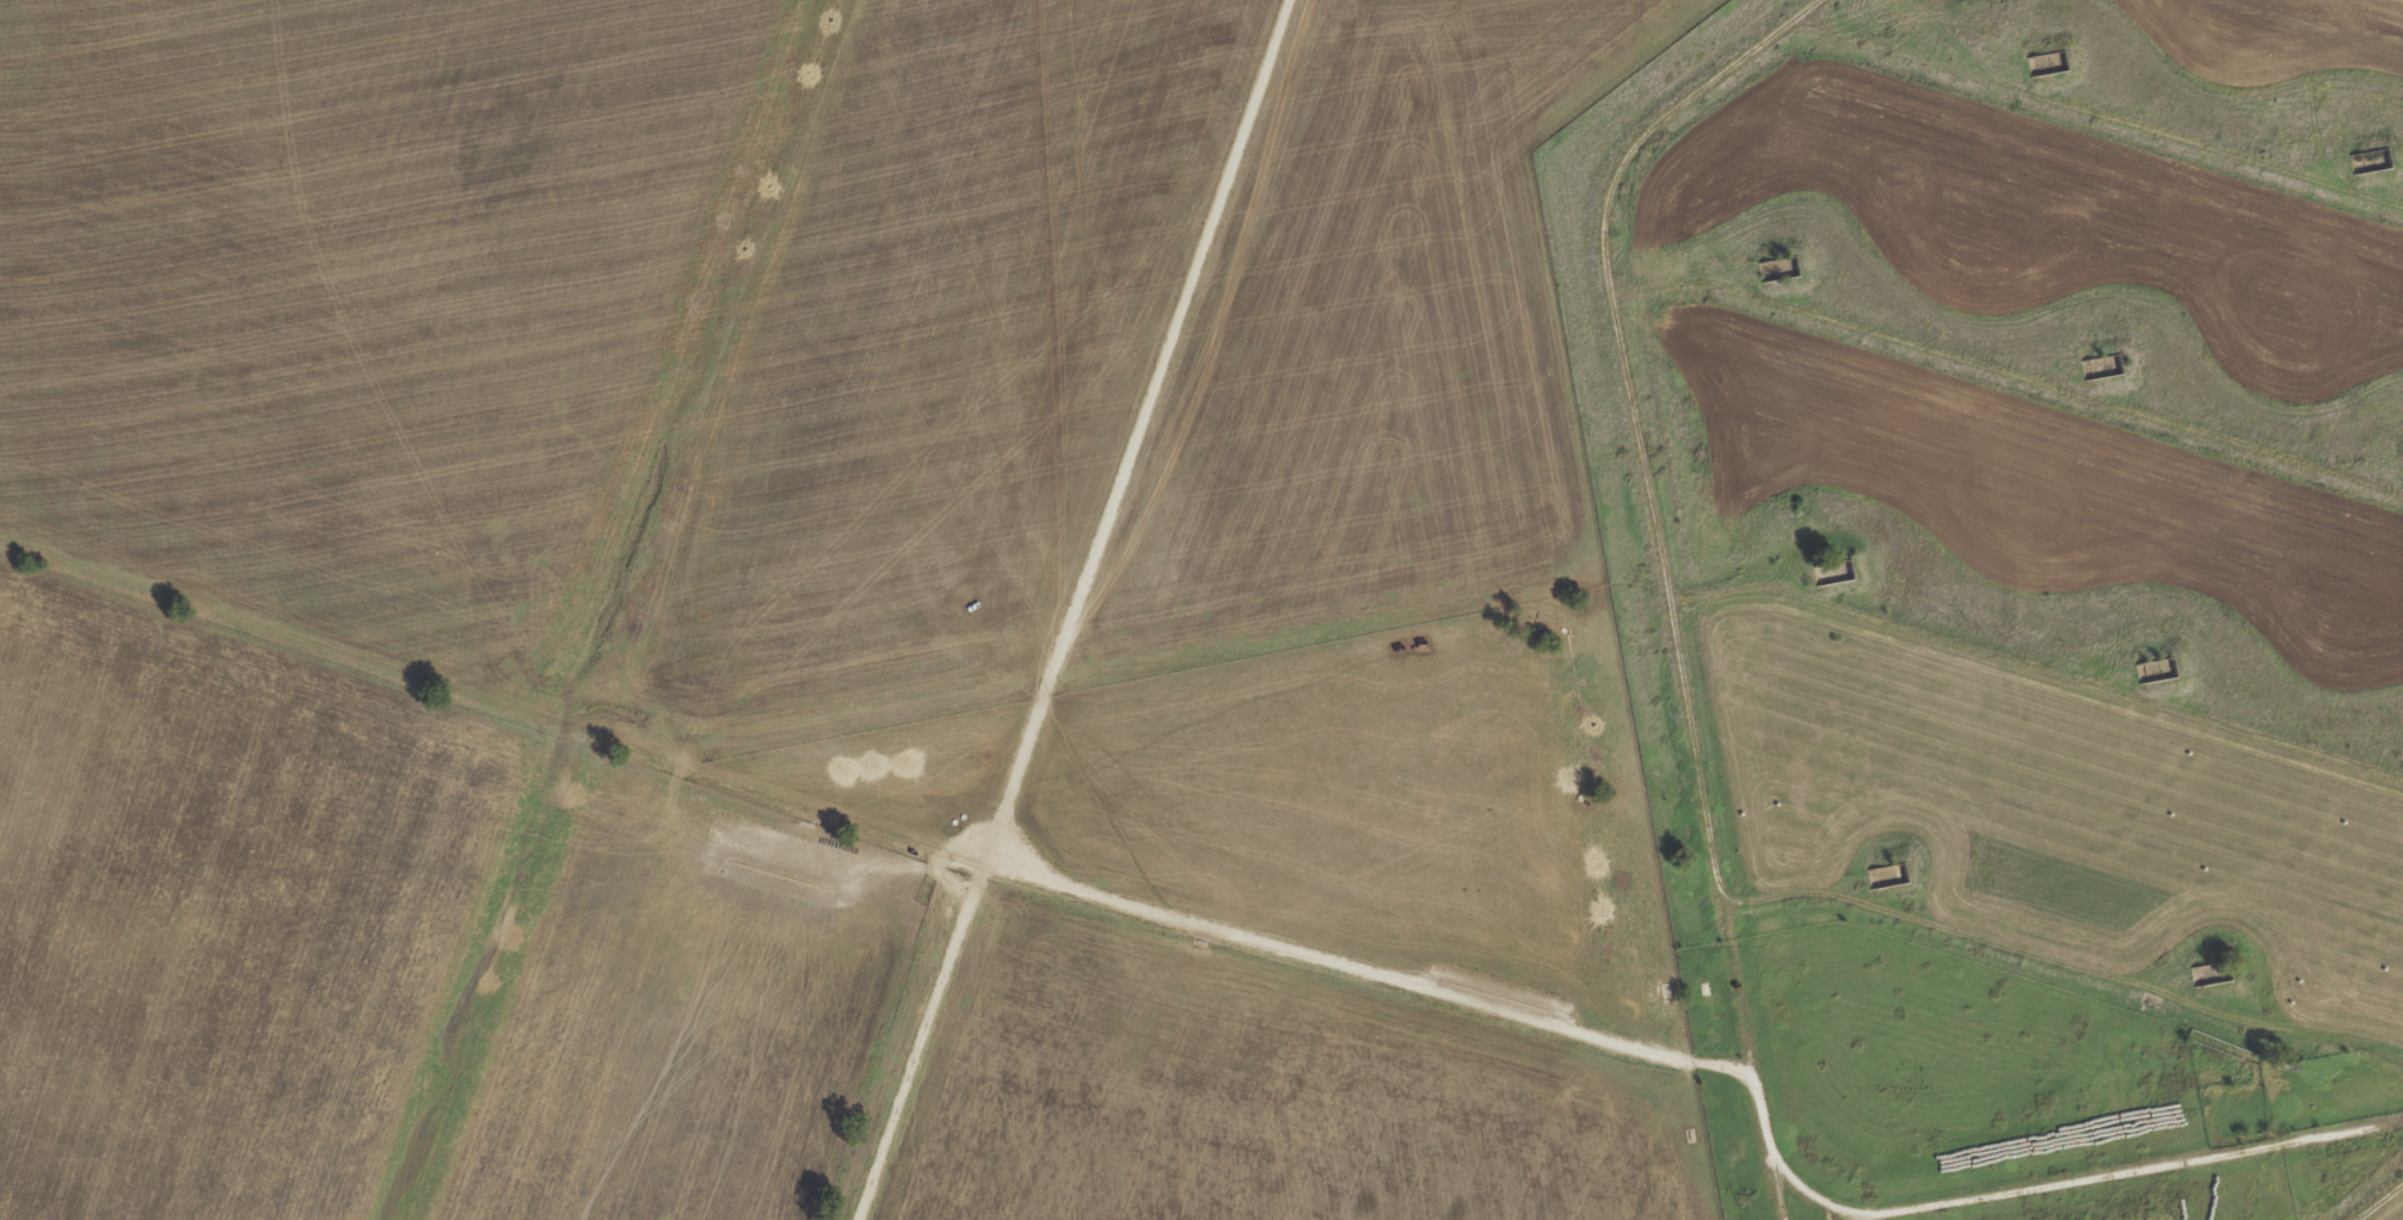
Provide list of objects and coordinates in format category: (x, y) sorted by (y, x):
building: (2045, 62)
road: (2097, 115)
building: (2368, 160)
building: (2101, 366)
road: (2008, 413)
road: (1663, 566)
road: (1089, 610)
road: (2035, 698)
building: (1888, 875)
road: (1381, 974)
road: (2064, 986)
road: (2085, 1182)
road: (2385, 1207)
road: (1882, 1218)

